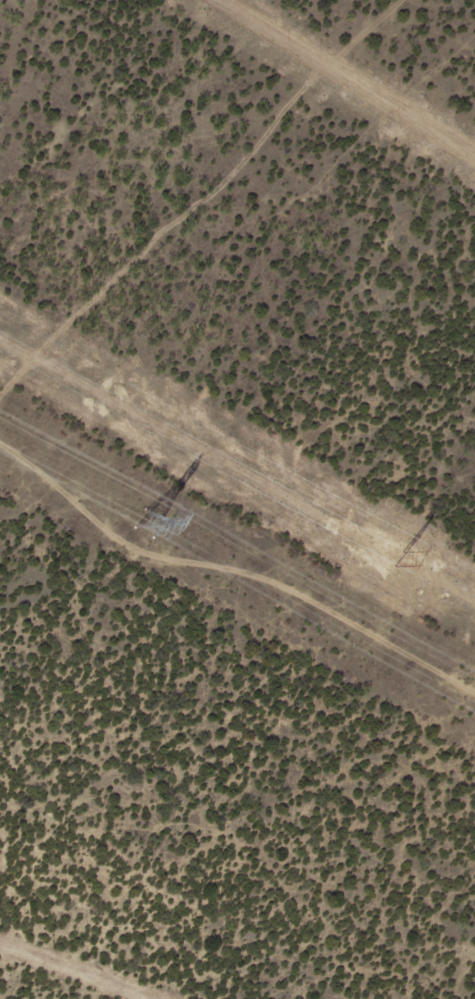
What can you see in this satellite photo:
road: (188, 179)
power tower: (142, 522)

